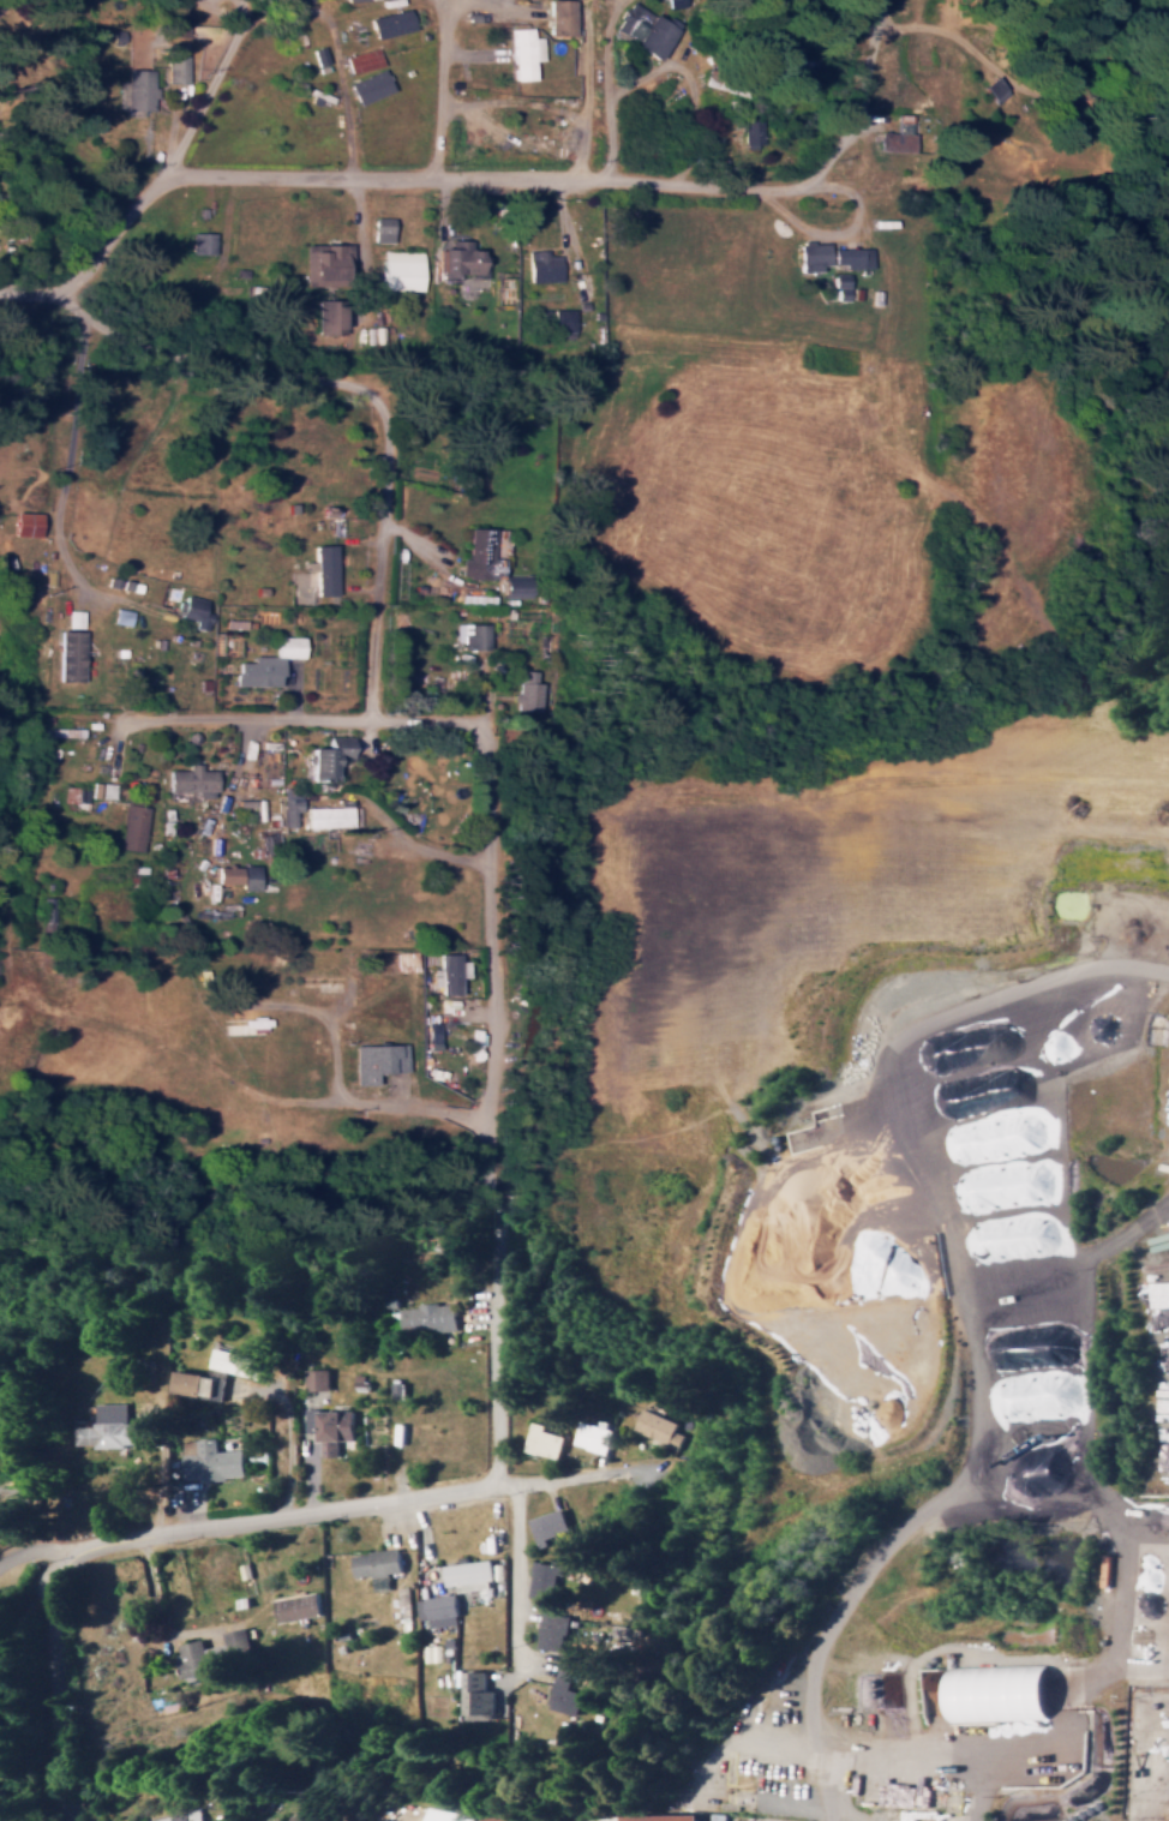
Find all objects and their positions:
building: (559, 17)
building: (390, 23)
road: (245, 25)
building: (645, 29)
building: (523, 52)
building: (318, 55)
building: (362, 59)
building: (178, 68)
building: (368, 85)
building: (140, 88)
building: (994, 88)
building: (751, 132)
building: (897, 134)
road: (212, 175)
road: (666, 185)
building: (382, 228)
building: (202, 241)
building: (831, 254)
building: (456, 257)
building: (325, 263)
building: (541, 265)
building: (401, 269)
building: (839, 286)
building: (328, 315)
building: (564, 322)
road: (374, 394)
road: (72, 424)
building: (24, 522)
building: (488, 563)
building: (478, 598)
building: (317, 600)
building: (194, 611)
building: (120, 615)
building: (73, 617)
building: (473, 634)
building: (68, 654)
building: (266, 663)
building: (528, 690)
road: (217, 719)
building: (325, 756)
building: (190, 778)
building: (102, 789)
building: (289, 809)
building: (330, 815)
building: (132, 826)
building: (235, 875)
building: (46, 910)
building: (404, 959)
building: (452, 972)
building: (244, 1026)
building: (433, 1035)
road: (494, 1052)
building: (377, 1060)
building: (428, 1318)
building: (996, 1356)
building: (234, 1361)
building: (1163, 1361)
building: (1032, 1395)
building: (102, 1426)
building: (659, 1426)
building: (329, 1427)
building: (593, 1436)
building: (544, 1440)
building: (212, 1462)
road: (366, 1505)
road: (47, 1508)
building: (548, 1525)
building: (377, 1565)
building: (467, 1571)
building: (545, 1579)
road: (502, 1603)
building: (296, 1606)
building: (440, 1610)
building: (553, 1631)
building: (214, 1652)
road: (55, 1681)
building: (564, 1693)
building: (994, 1693)
building: (476, 1694)
building: (302, 1814)
building: (178, 1816)
building: (927, 1816)
building: (630, 1817)

